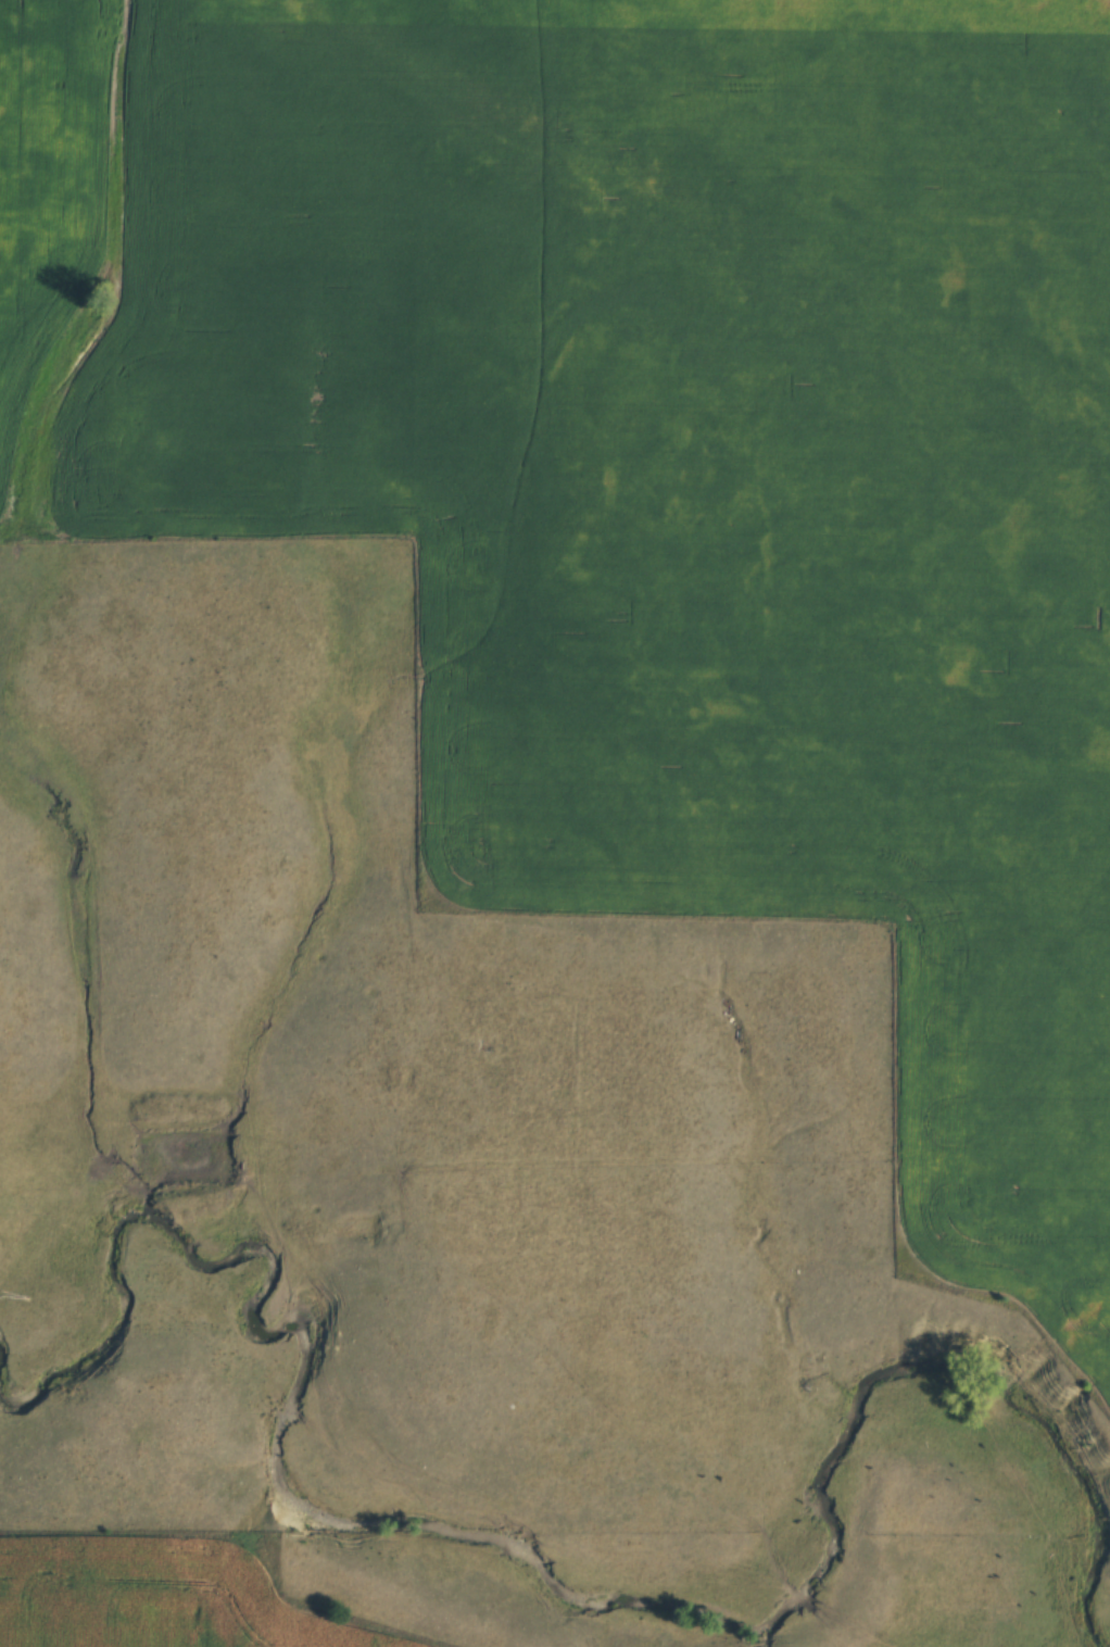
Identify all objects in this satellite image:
crop: (177, 1602)

